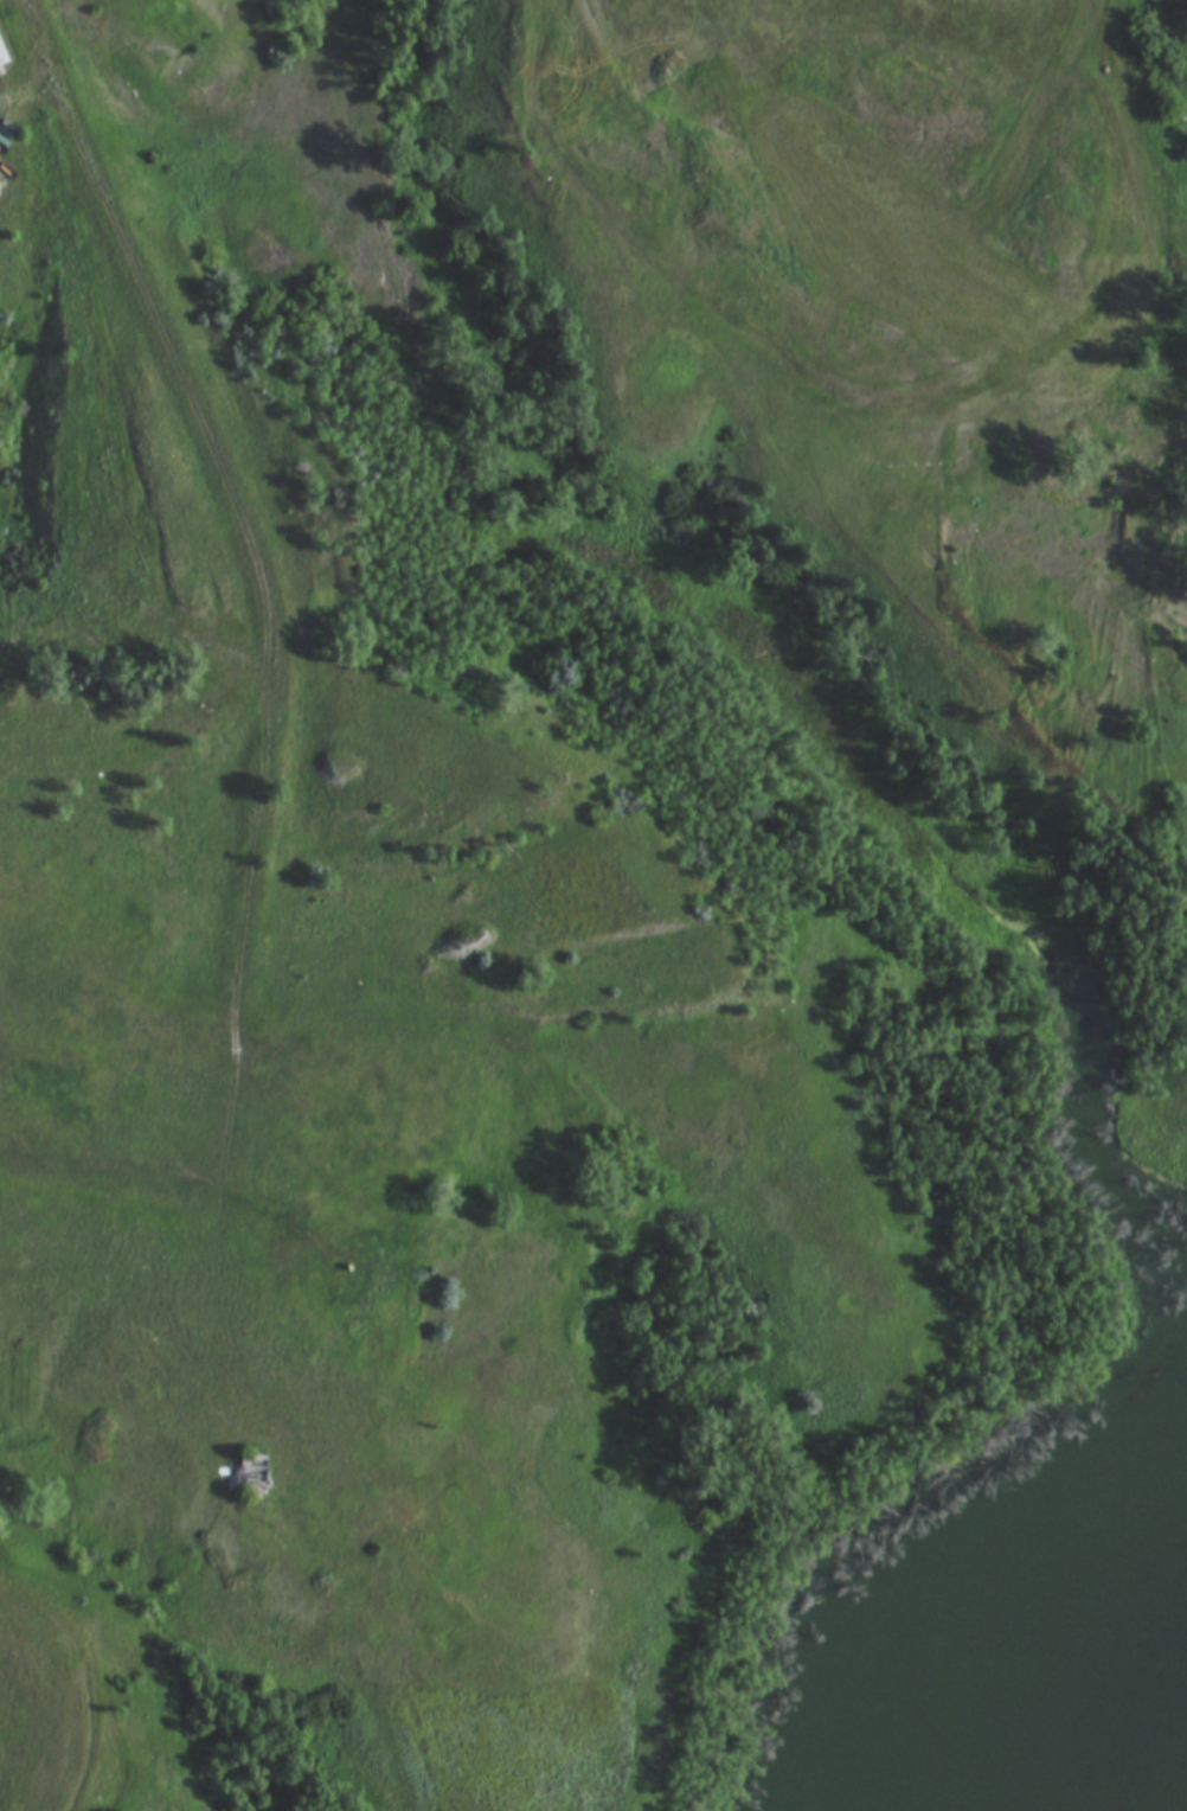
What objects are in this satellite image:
building: (2, 58)
road: (269, 594)
building: (249, 1473)

